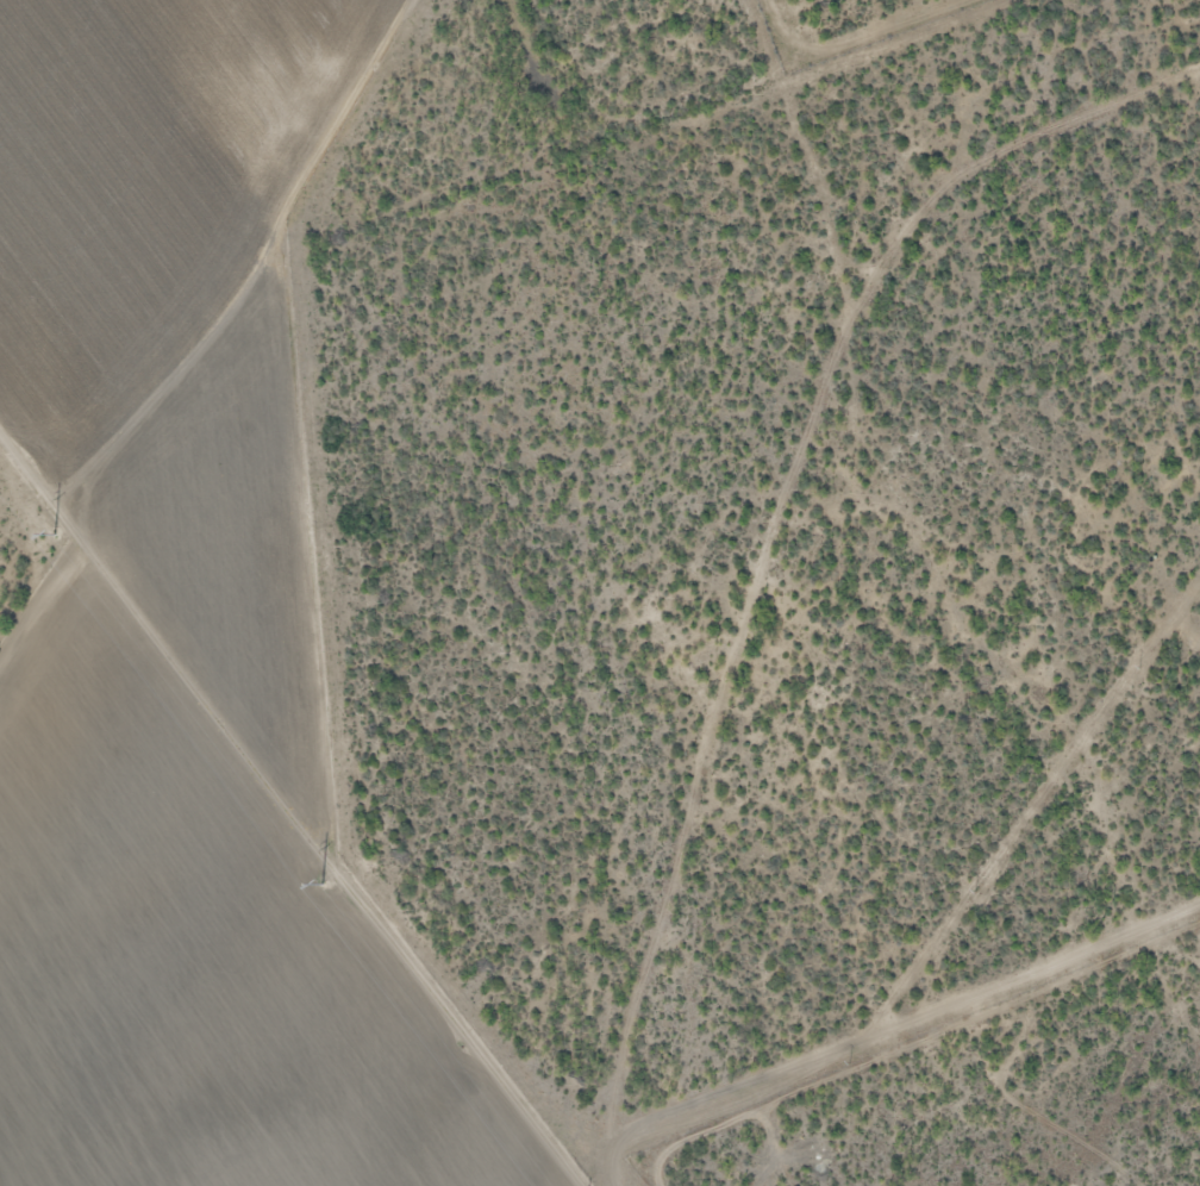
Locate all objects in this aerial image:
road: (996, 152)
power tower: (62, 543)
road: (758, 591)
road: (1050, 693)
power tower: (314, 874)

